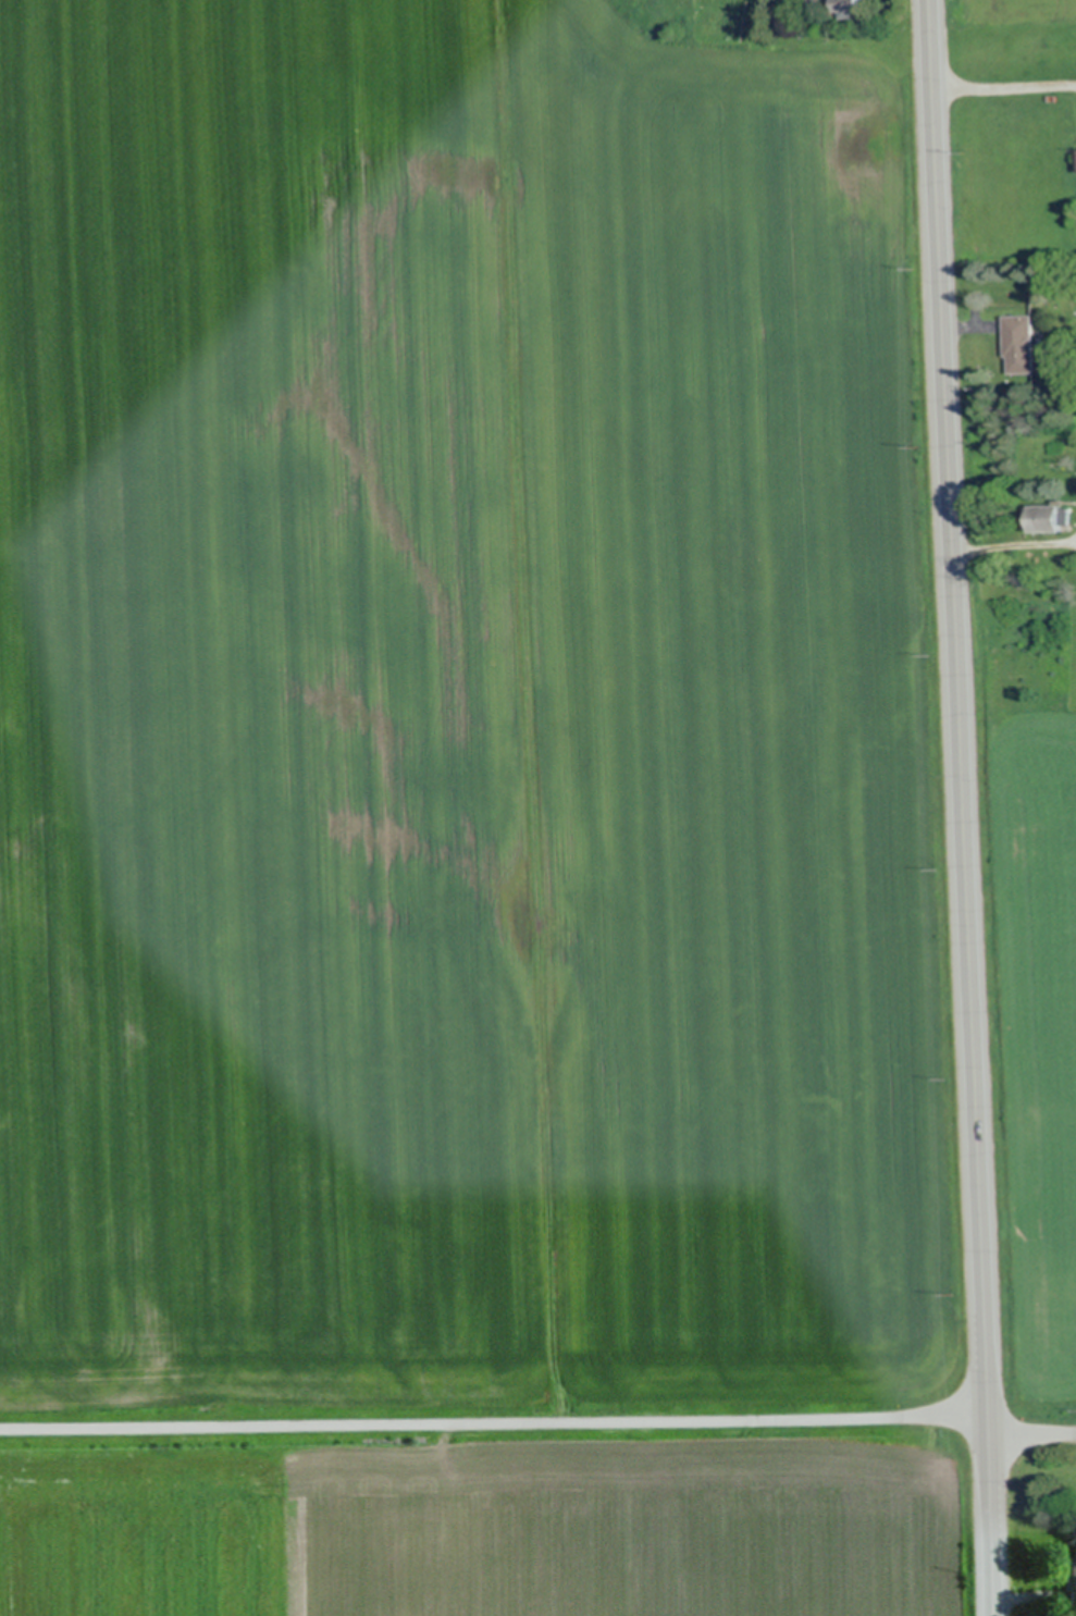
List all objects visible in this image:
building: (852, 9)
building: (1019, 343)
building: (1051, 517)
road: (964, 807)
road: (537, 1422)

